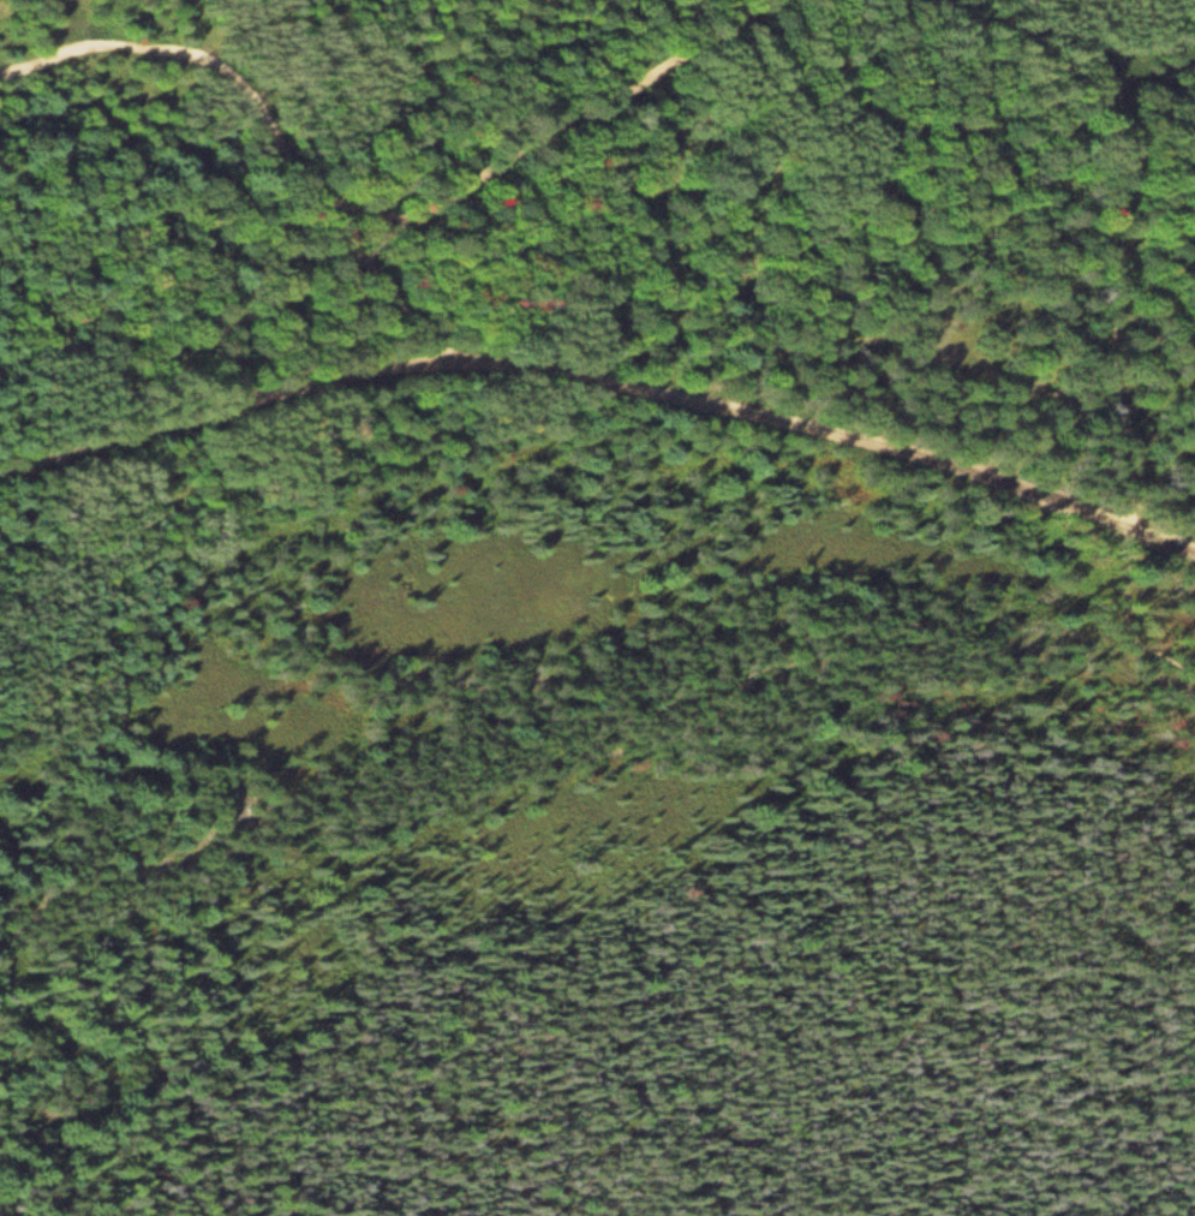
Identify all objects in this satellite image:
road: (259, 65)
road: (378, 214)
road: (1115, 270)
road: (388, 281)
road: (172, 354)
road: (602, 380)

